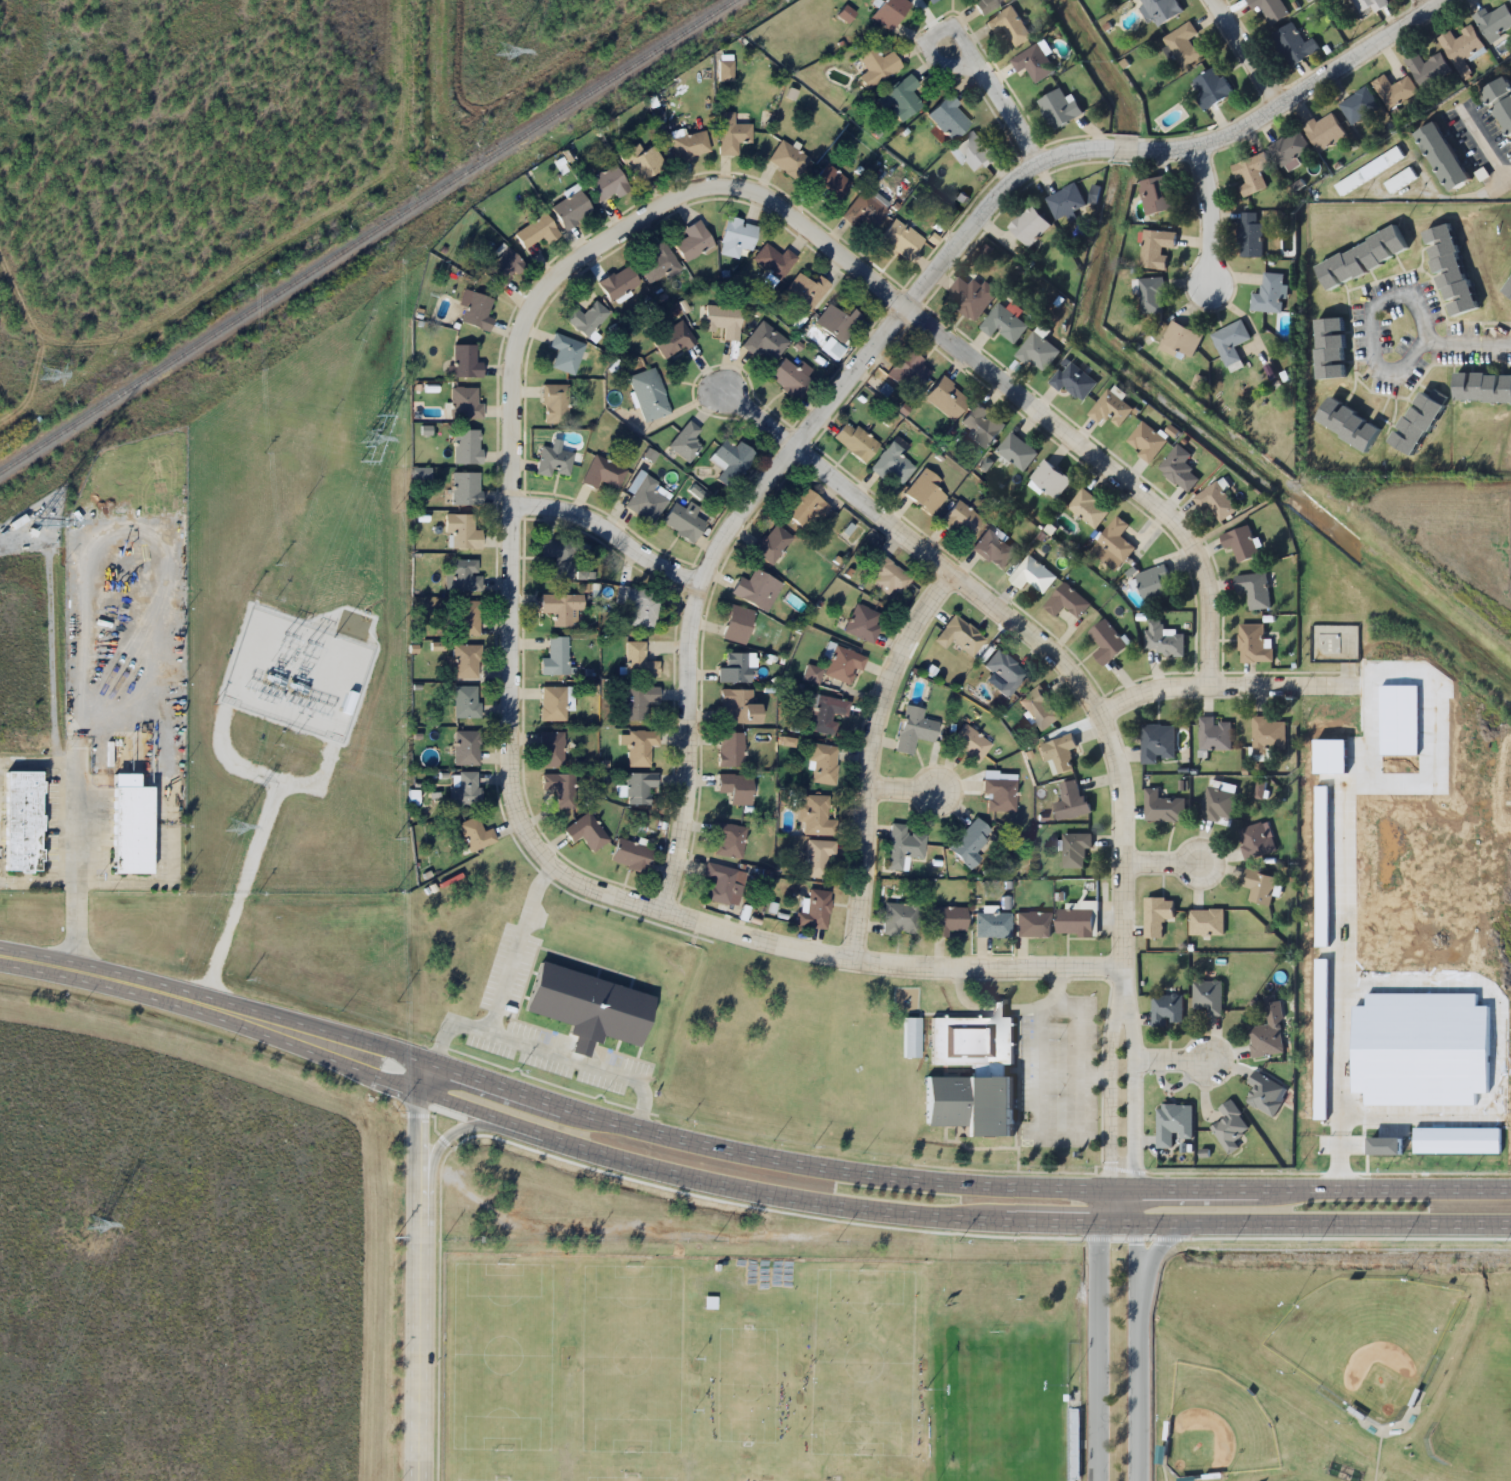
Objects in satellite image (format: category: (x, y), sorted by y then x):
building: (1510, 0)
building: (930, 1)
building: (1370, 5)
building: (986, 6)
road: (1417, 8)
building: (1270, 9)
building: (1160, 10)
building: (889, 12)
building: (1494, 23)
building: (1009, 26)
building: (1184, 45)
building: (1294, 45)
building: (1462, 49)
road: (932, 53)
road: (1241, 54)
building: (1033, 63)
building: (877, 66)
building: (1427, 69)
building: (1211, 88)
building: (1503, 89)
building: (1394, 91)
road: (995, 95)
building: (900, 98)
building: (1358, 106)
building: (1059, 109)
building: (948, 117)
building: (1325, 131)
building: (731, 133)
road: (1478, 139)
building: (690, 145)
building: (1446, 147)
building: (1289, 149)
building: (975, 152)
building: (788, 159)
building: (641, 162)
building: (1368, 171)
building: (1251, 174)
building: (1400, 180)
road: (1508, 180)
building: (608, 183)
building: (828, 184)
building: (1158, 195)
building: (1066, 201)
building: (571, 209)
building: (866, 211)
road: (1202, 214)
building: (1030, 226)
building: (537, 231)
railway: (366, 235)
building: (737, 236)
building: (1250, 236)
building: (693, 241)
building: (900, 241)
building: (1156, 248)
building: (1363, 259)
building: (773, 260)
building: (658, 262)
building: (502, 268)
building: (1451, 271)
building: (618, 283)
building: (805, 291)
building: (1510, 293)
building: (1269, 294)
building: (1151, 295)
building: (973, 296)
building: (476, 310)
building: (586, 318)
building: (723, 319)
road: (892, 321)
building: (838, 323)
road: (1367, 323)
building: (1004, 325)
building: (673, 339)
building: (1180, 341)
road: (1468, 341)
building: (764, 343)
building: (1231, 343)
building: (1331, 348)
building: (831, 349)
building: (566, 353)
building: (1038, 353)
building: (465, 361)
building: (909, 371)
building: (791, 378)
building: (1073, 381)
building: (1483, 388)
building: (649, 393)
building: (947, 398)
building: (465, 403)
building: (554, 403)
building: (1111, 410)
road: (761, 419)
building: (1418, 423)
building: (1350, 425)
building: (982, 426)
building: (686, 442)
building: (856, 442)
building: (1148, 443)
building: (467, 446)
building: (1017, 452)
building: (553, 462)
building: (894, 463)
road: (1106, 466)
building: (1179, 469)
building: (605, 473)
building: (465, 488)
building: (926, 493)
building: (645, 497)
building: (1215, 502)
building: (805, 507)
building: (1088, 509)
building: (962, 520)
building: (684, 521)
building: (461, 533)
road: (611, 539)
building: (772, 543)
building: (1240, 544)
building: (1113, 545)
building: (994, 550)
building: (560, 557)
building: (464, 574)
building: (886, 575)
building: (1033, 576)
building: (1154, 585)
building: (756, 589)
building: (1254, 590)
building: (1065, 602)
building: (639, 605)
building: (562, 608)
building: (467, 618)
building: (863, 623)
building: (737, 624)
road: (1064, 633)
building: (959, 636)
building: (1164, 640)
building: (1107, 643)
building: (1254, 645)
road: (510, 657)
building: (556, 657)
building: (466, 661)
building: (639, 661)
building: (844, 665)
building: (736, 668)
building: (1005, 672)
building: (812, 673)
road: (1225, 684)
building: (466, 701)
building: (638, 702)
building: (552, 703)
building: (738, 707)
building: (1040, 709)
building: (826, 713)
building: (914, 730)
building: (1214, 735)
building: (1268, 737)
building: (970, 743)
building: (1157, 744)
road: (1115, 745)
building: (466, 747)
building: (641, 747)
building: (550, 749)
building: (730, 750)
building: (1059, 755)
road: (868, 756)
building: (823, 764)
building: (464, 788)
building: (560, 788)
building: (640, 788)
building: (736, 788)
road: (907, 788)
building: (1000, 794)
building: (1071, 802)
building: (1218, 805)
building: (1163, 808)
building: (816, 816)
building: (24, 822)
building: (132, 830)
building: (586, 832)
building: (475, 834)
building: (728, 840)
building: (1255, 840)
building: (969, 843)
building: (903, 847)
building: (1075, 850)
building: (632, 855)
building: (818, 857)
road: (1159, 863)
building: (724, 884)
building: (1259, 886)
building: (815, 910)
building: (1157, 916)
building: (901, 918)
building: (949, 920)
building: (1075, 922)
building: (1206, 922)
building: (993, 924)
building: (1033, 924)
road: (62, 969)
building: (1208, 997)
building: (1167, 1011)
building: (1268, 1033)
building: (974, 1039)
road: (1165, 1063)
building: (1266, 1094)
building: (972, 1105)
building: (1173, 1124)
building: (1230, 1127)
road: (447, 1137)
road: (805, 1165)
road: (800, 1200)
road: (420, 1270)
building: (709, 1302)
road: (1097, 1332)
road: (1140, 1332)
park: (1366, 1340)
park: (503, 1356)
park: (631, 1358)
park: (997, 1405)
building: (1188, 1479)

